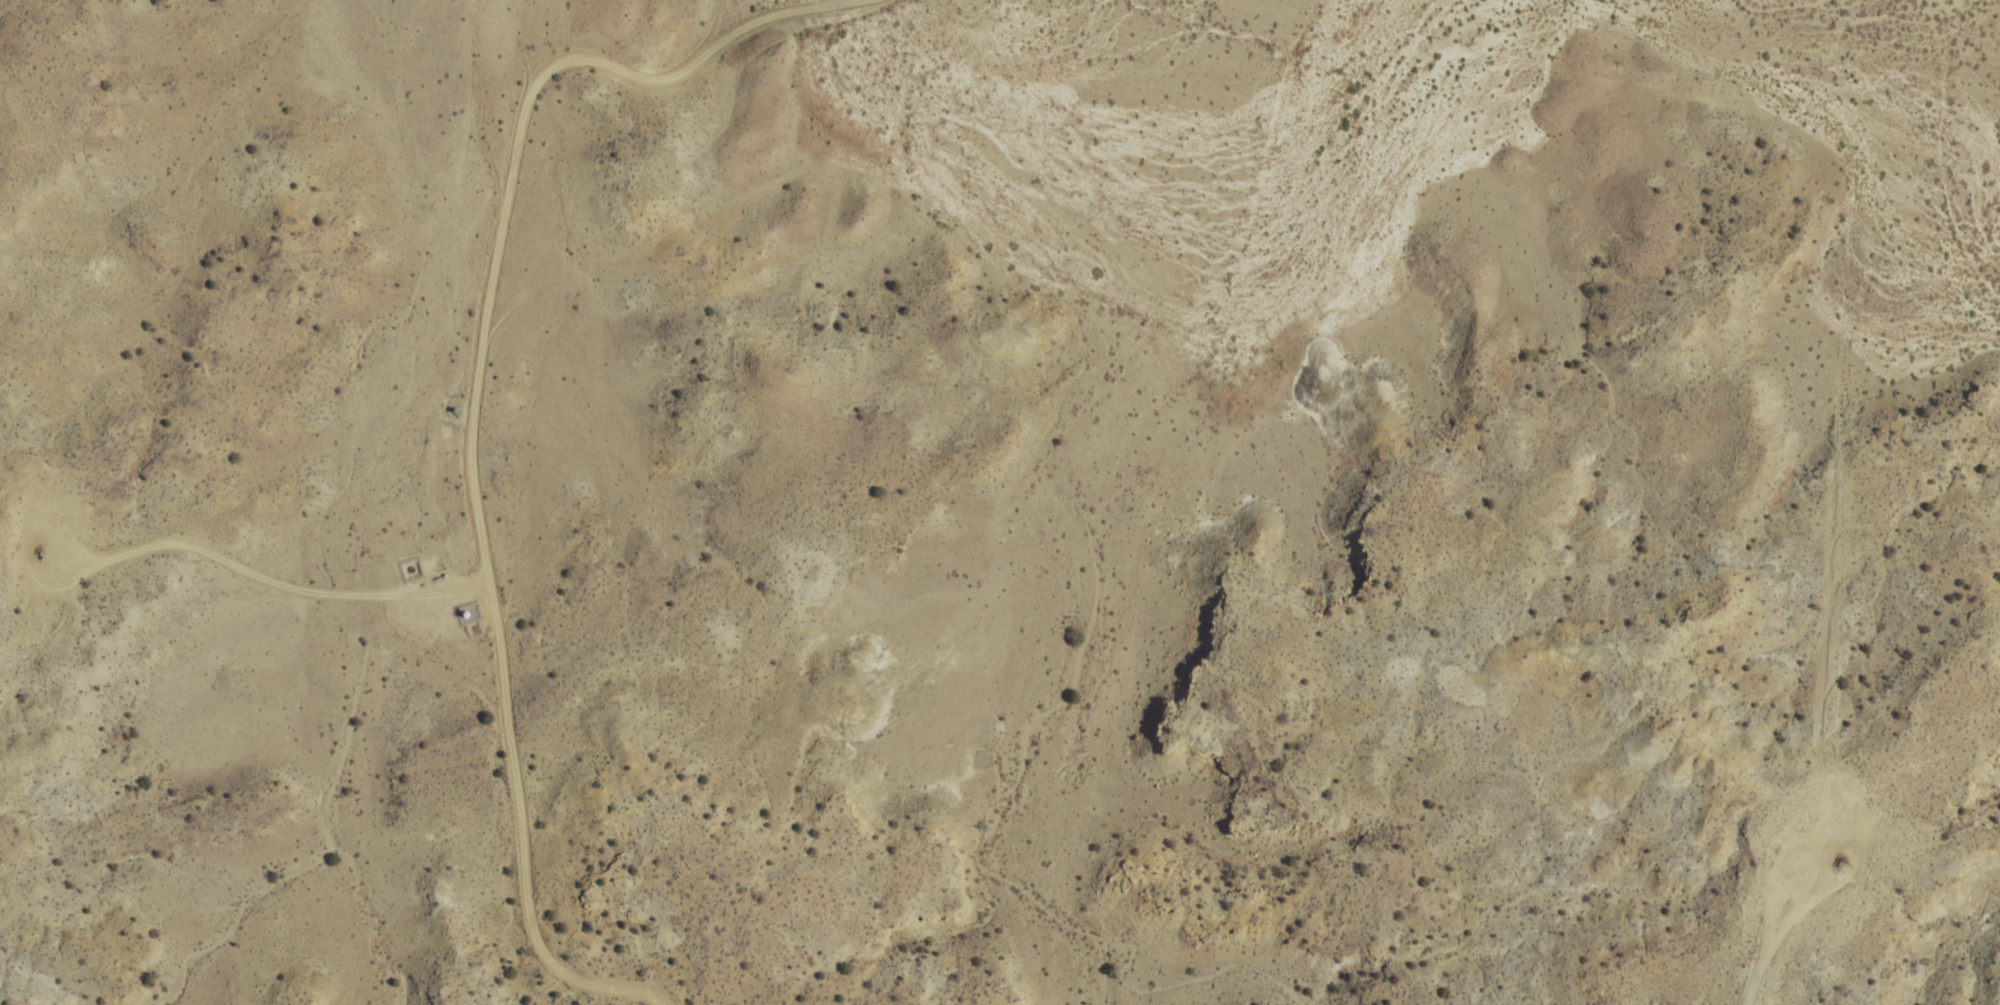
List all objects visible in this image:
road: (472, 416)
road: (203, 546)

